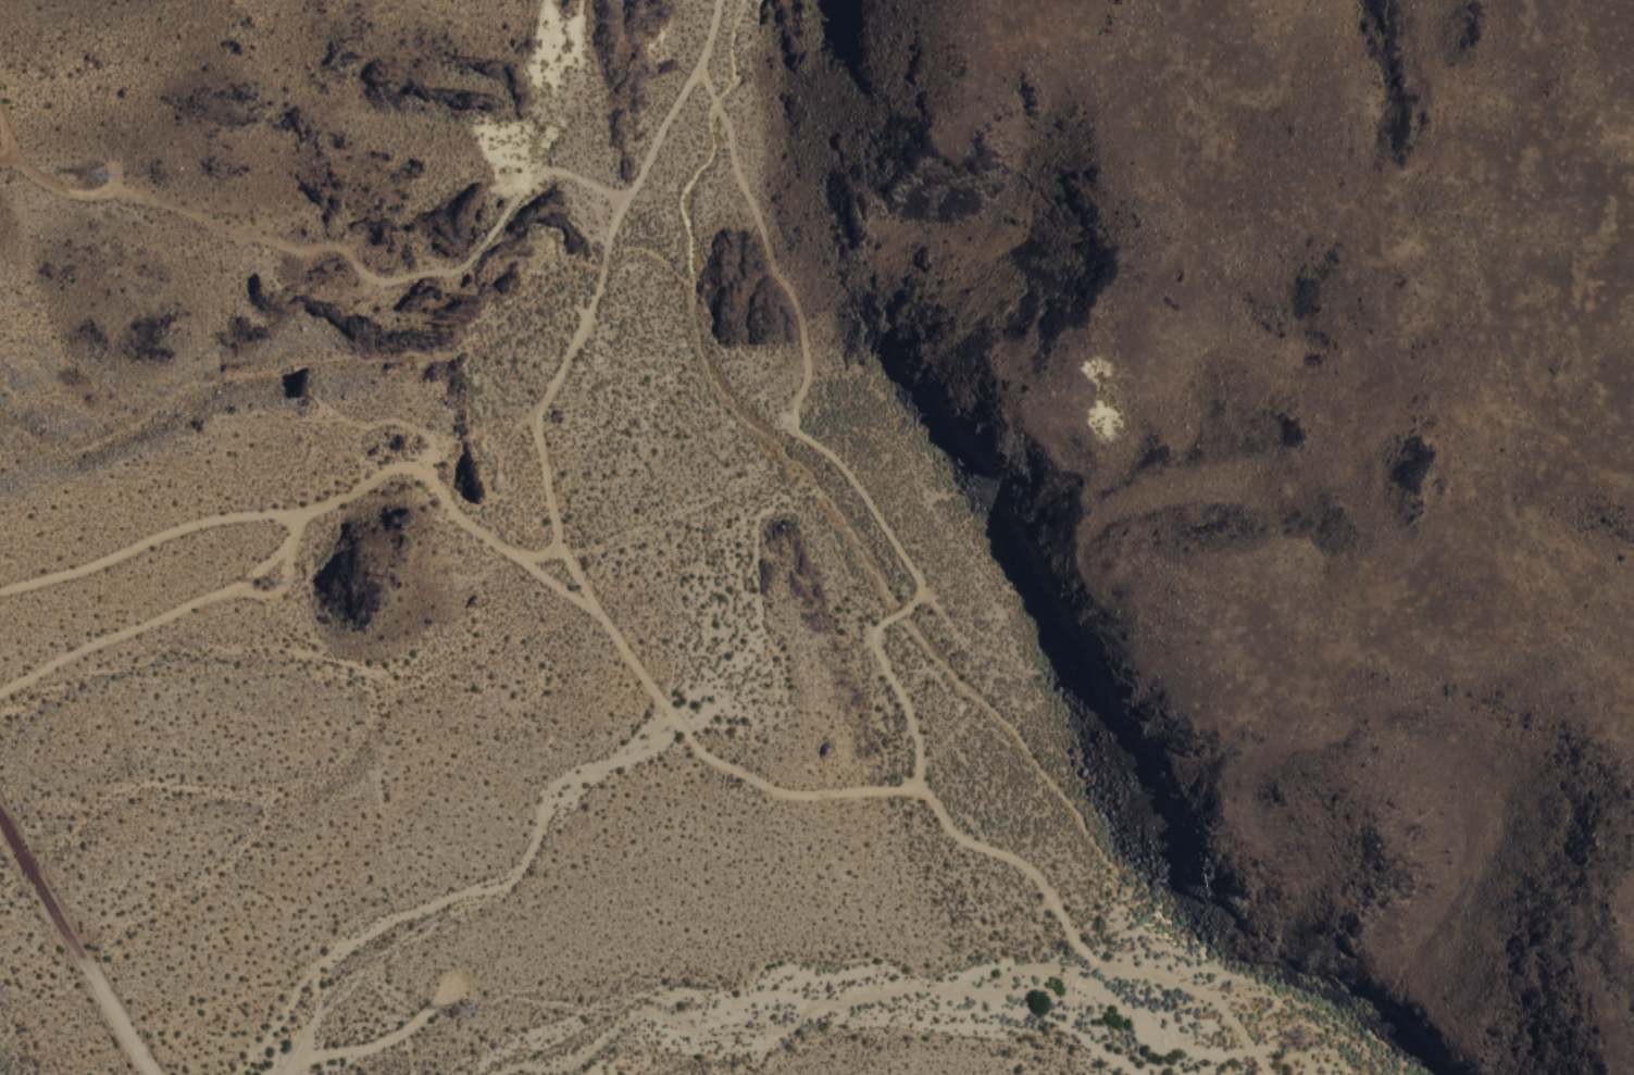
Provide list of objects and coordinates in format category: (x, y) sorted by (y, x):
power tower: (89, 167)
power tower: (266, 586)
power tower: (465, 1011)

